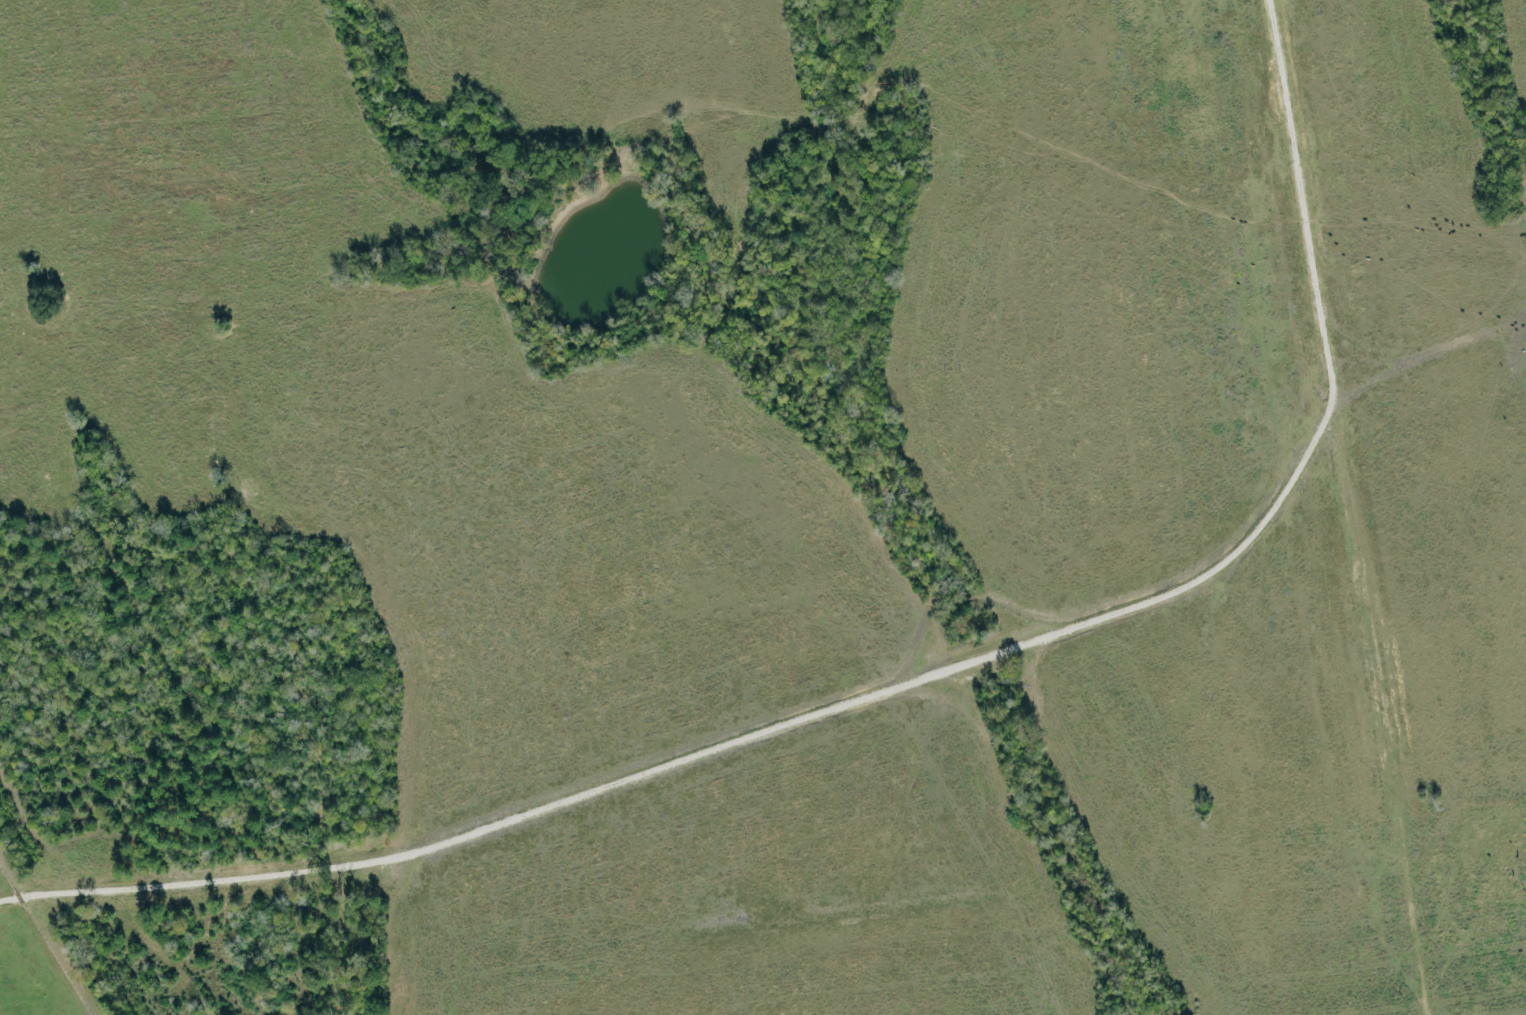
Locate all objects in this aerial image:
road: (1346, 507)

